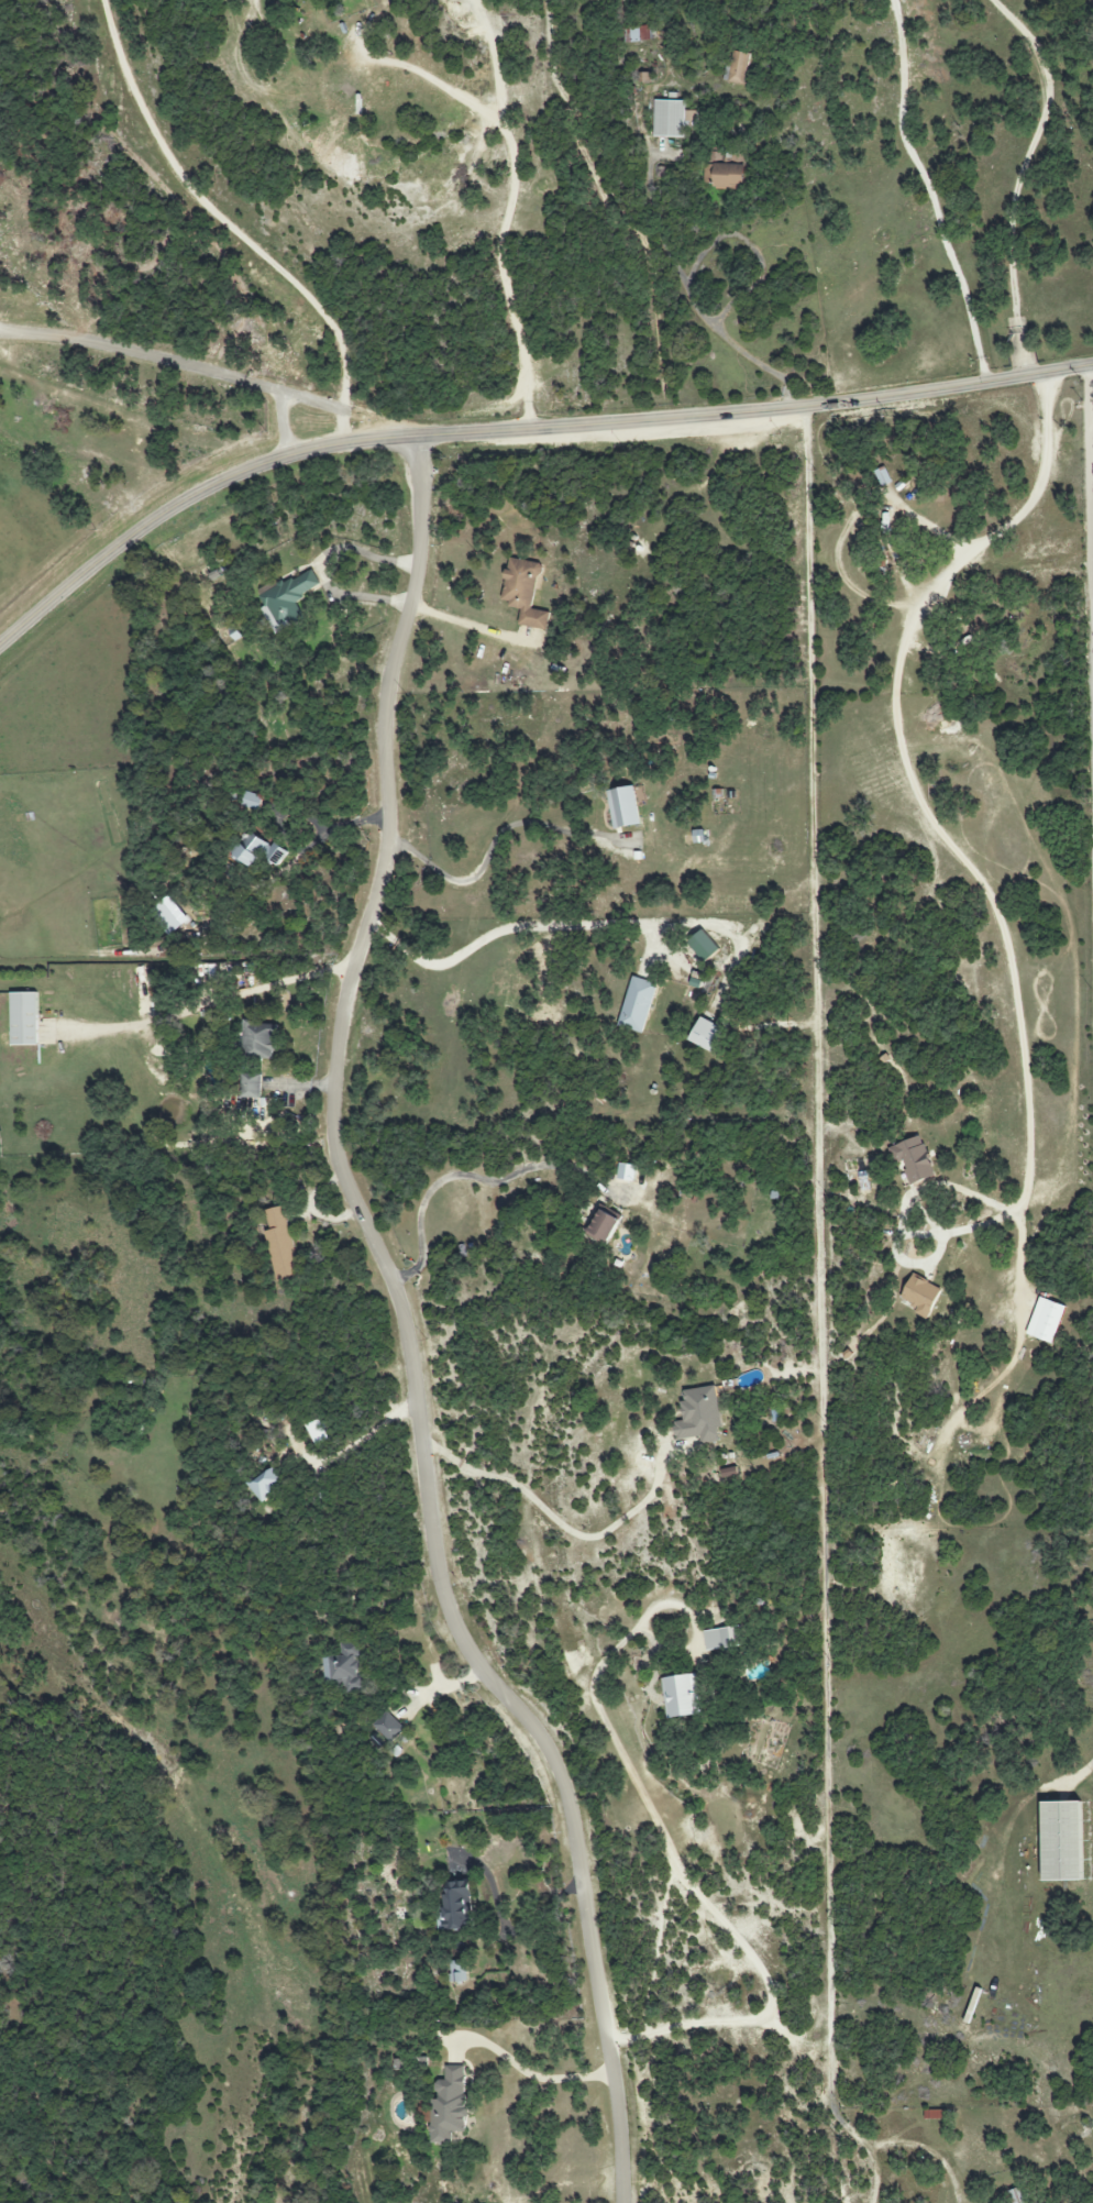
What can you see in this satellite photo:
building: (322, 0)
building: (637, 34)
building: (738, 67)
building: (673, 119)
building: (726, 176)
road: (1019, 177)
road: (930, 190)
road: (507, 208)
road: (239, 239)
road: (688, 275)
road: (172, 361)
road: (1092, 400)
road: (516, 429)
building: (525, 593)
road: (356, 598)
building: (287, 601)
road: (474, 627)
road: (904, 764)
park: (938, 789)
building: (251, 801)
building: (623, 807)
road: (313, 846)
building: (258, 851)
road: (504, 924)
building: (704, 945)
road: (216, 1001)
building: (638, 1004)
building: (24, 1018)
building: (707, 1034)
building: (258, 1038)
building: (250, 1086)
building: (915, 1160)
road: (920, 1192)
building: (603, 1226)
building: (280, 1245)
road: (1020, 1266)
building: (920, 1296)
building: (1046, 1320)
road: (408, 1329)
road: (826, 1334)
building: (699, 1416)
road: (361, 1438)
building: (267, 1485)
road: (561, 1523)
building: (722, 1639)
building: (345, 1668)
building: (681, 1696)
building: (389, 1727)
building: (1062, 1841)
road: (687, 1888)
building: (455, 1908)
road: (511, 1921)
building: (459, 1971)
road: (529, 2074)
building: (450, 2104)
building: (1017, 2195)

